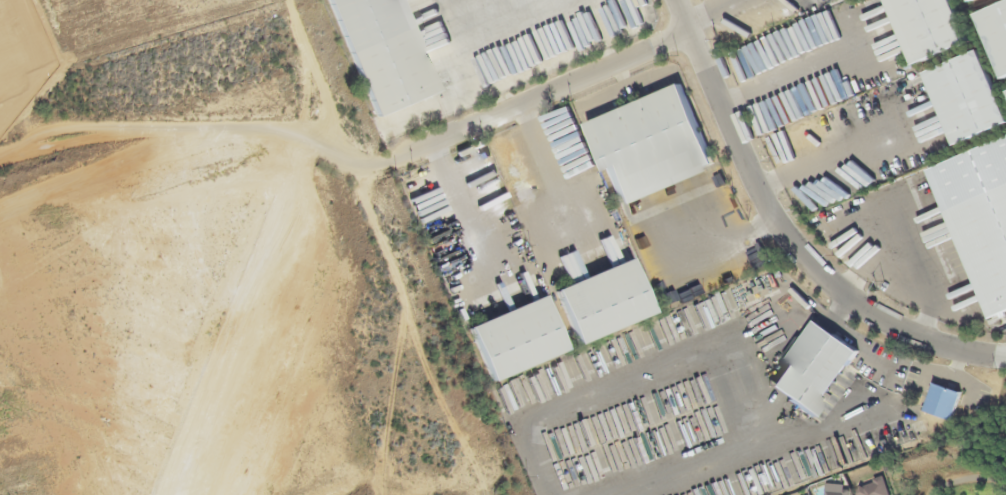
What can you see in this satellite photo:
building: (969, 0)
road: (683, 24)
building: (928, 27)
building: (996, 32)
building: (967, 96)
road: (537, 106)
building: (650, 143)
building: (979, 215)
road: (806, 252)
building: (604, 300)
building: (813, 368)
building: (943, 401)
building: (873, 488)
building: (836, 489)

